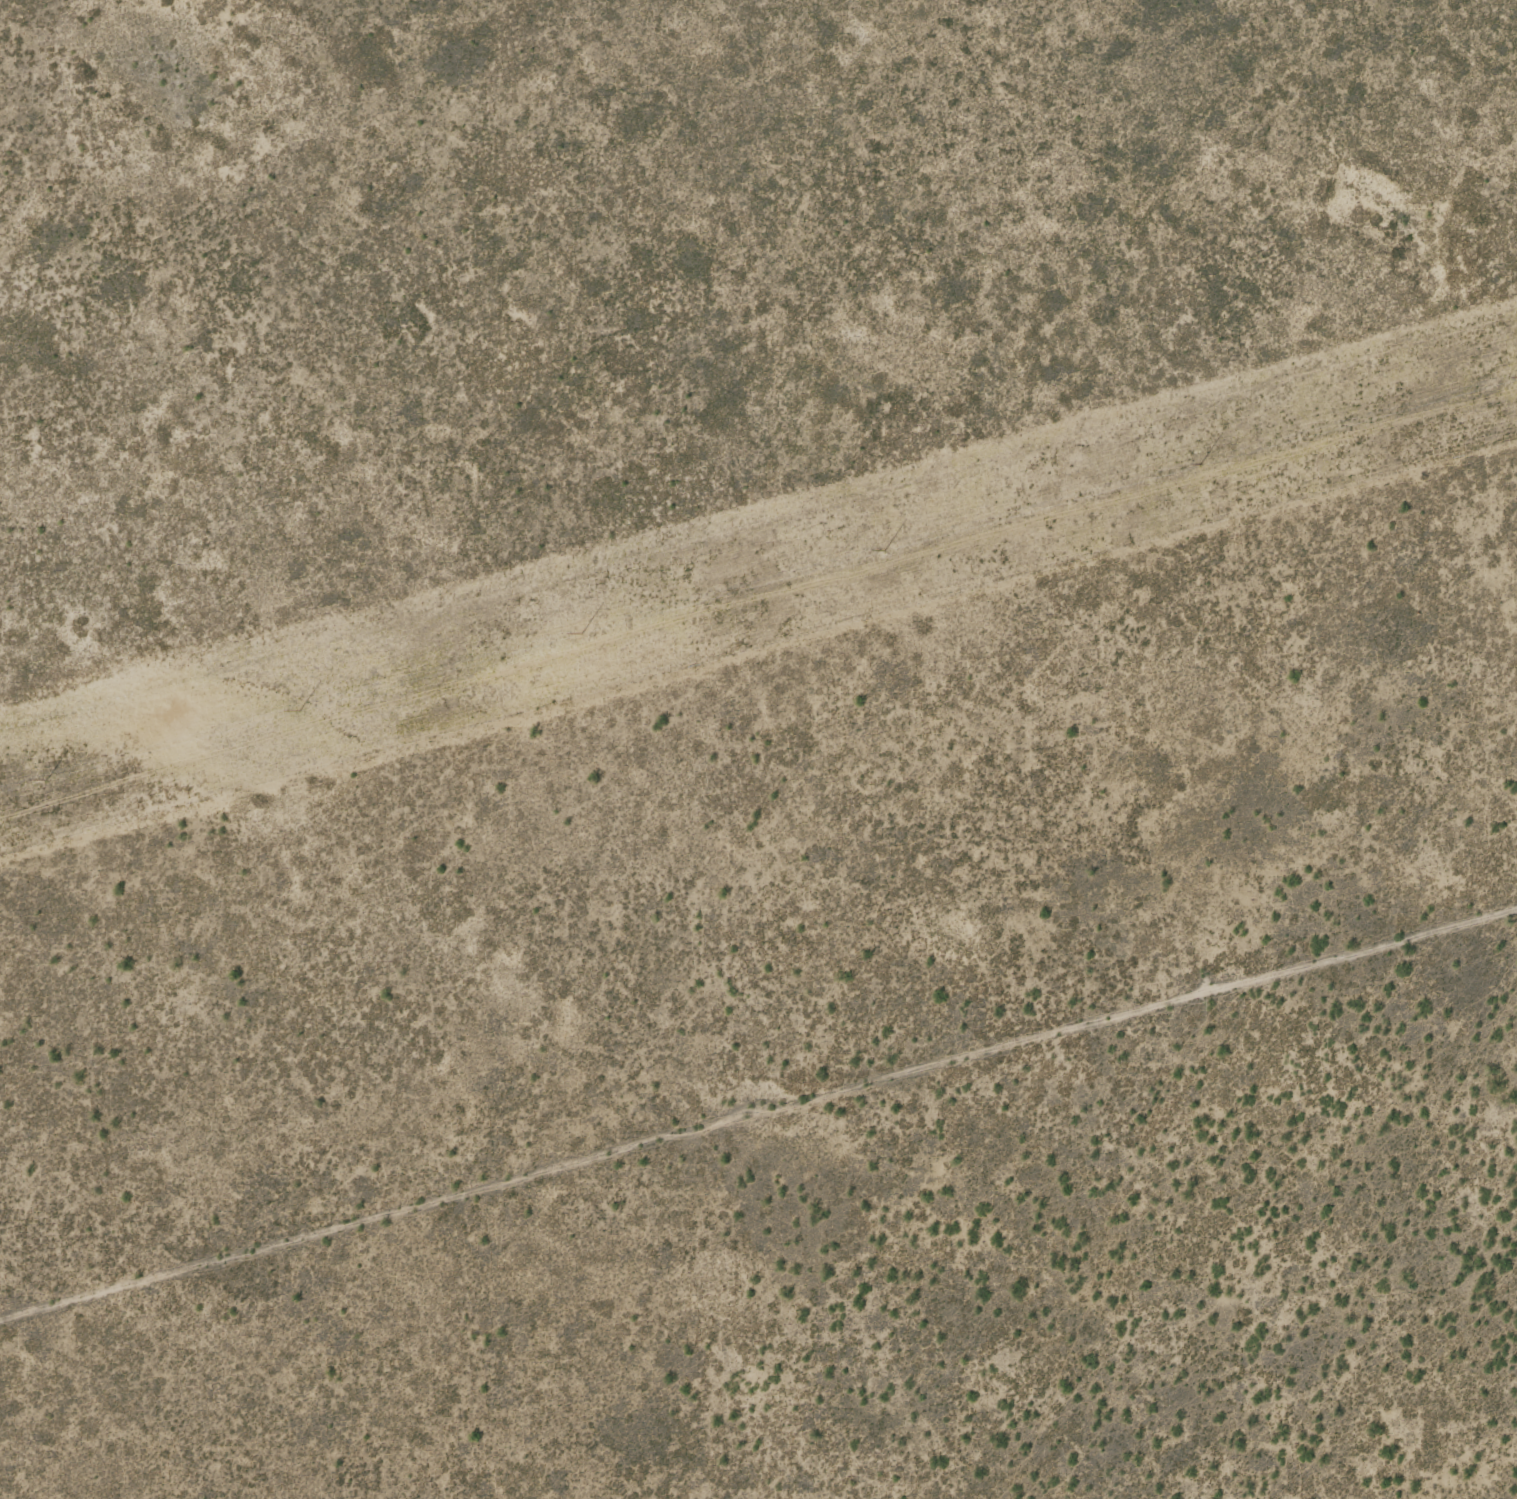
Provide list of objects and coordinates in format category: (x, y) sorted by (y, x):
power tower: (1199, 464)
power tower: (885, 551)
power tower: (582, 635)
power tower: (300, 711)
power tower: (46, 781)
road: (758, 1134)

